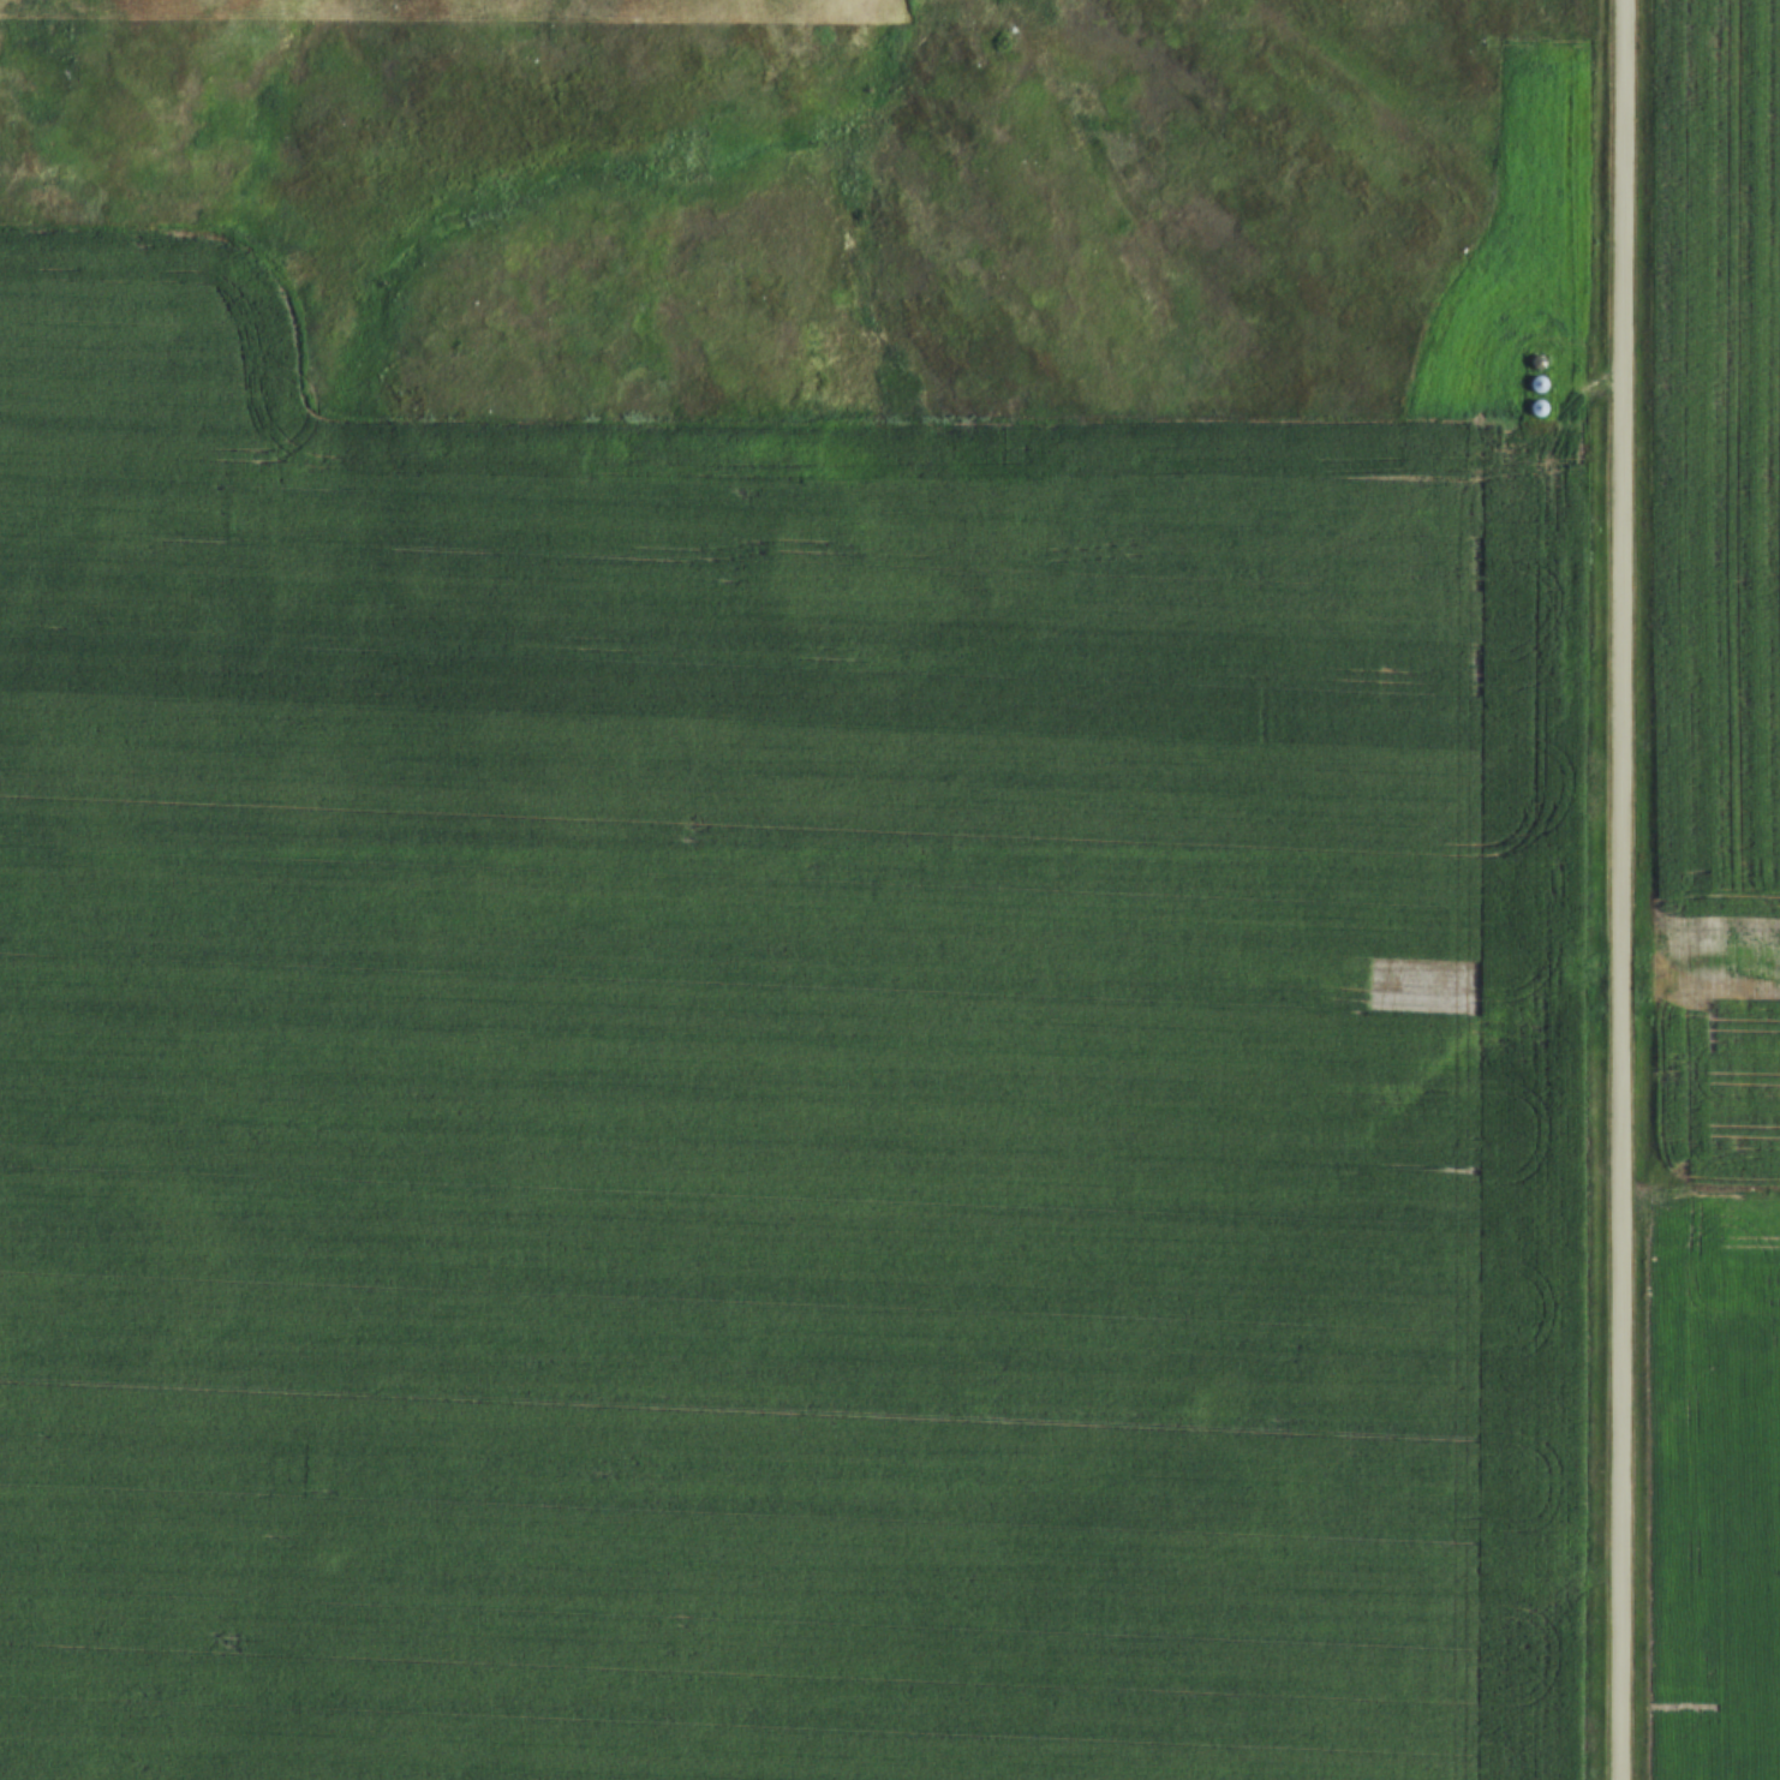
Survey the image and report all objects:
building: (1536, 384)
road: (1621, 889)

